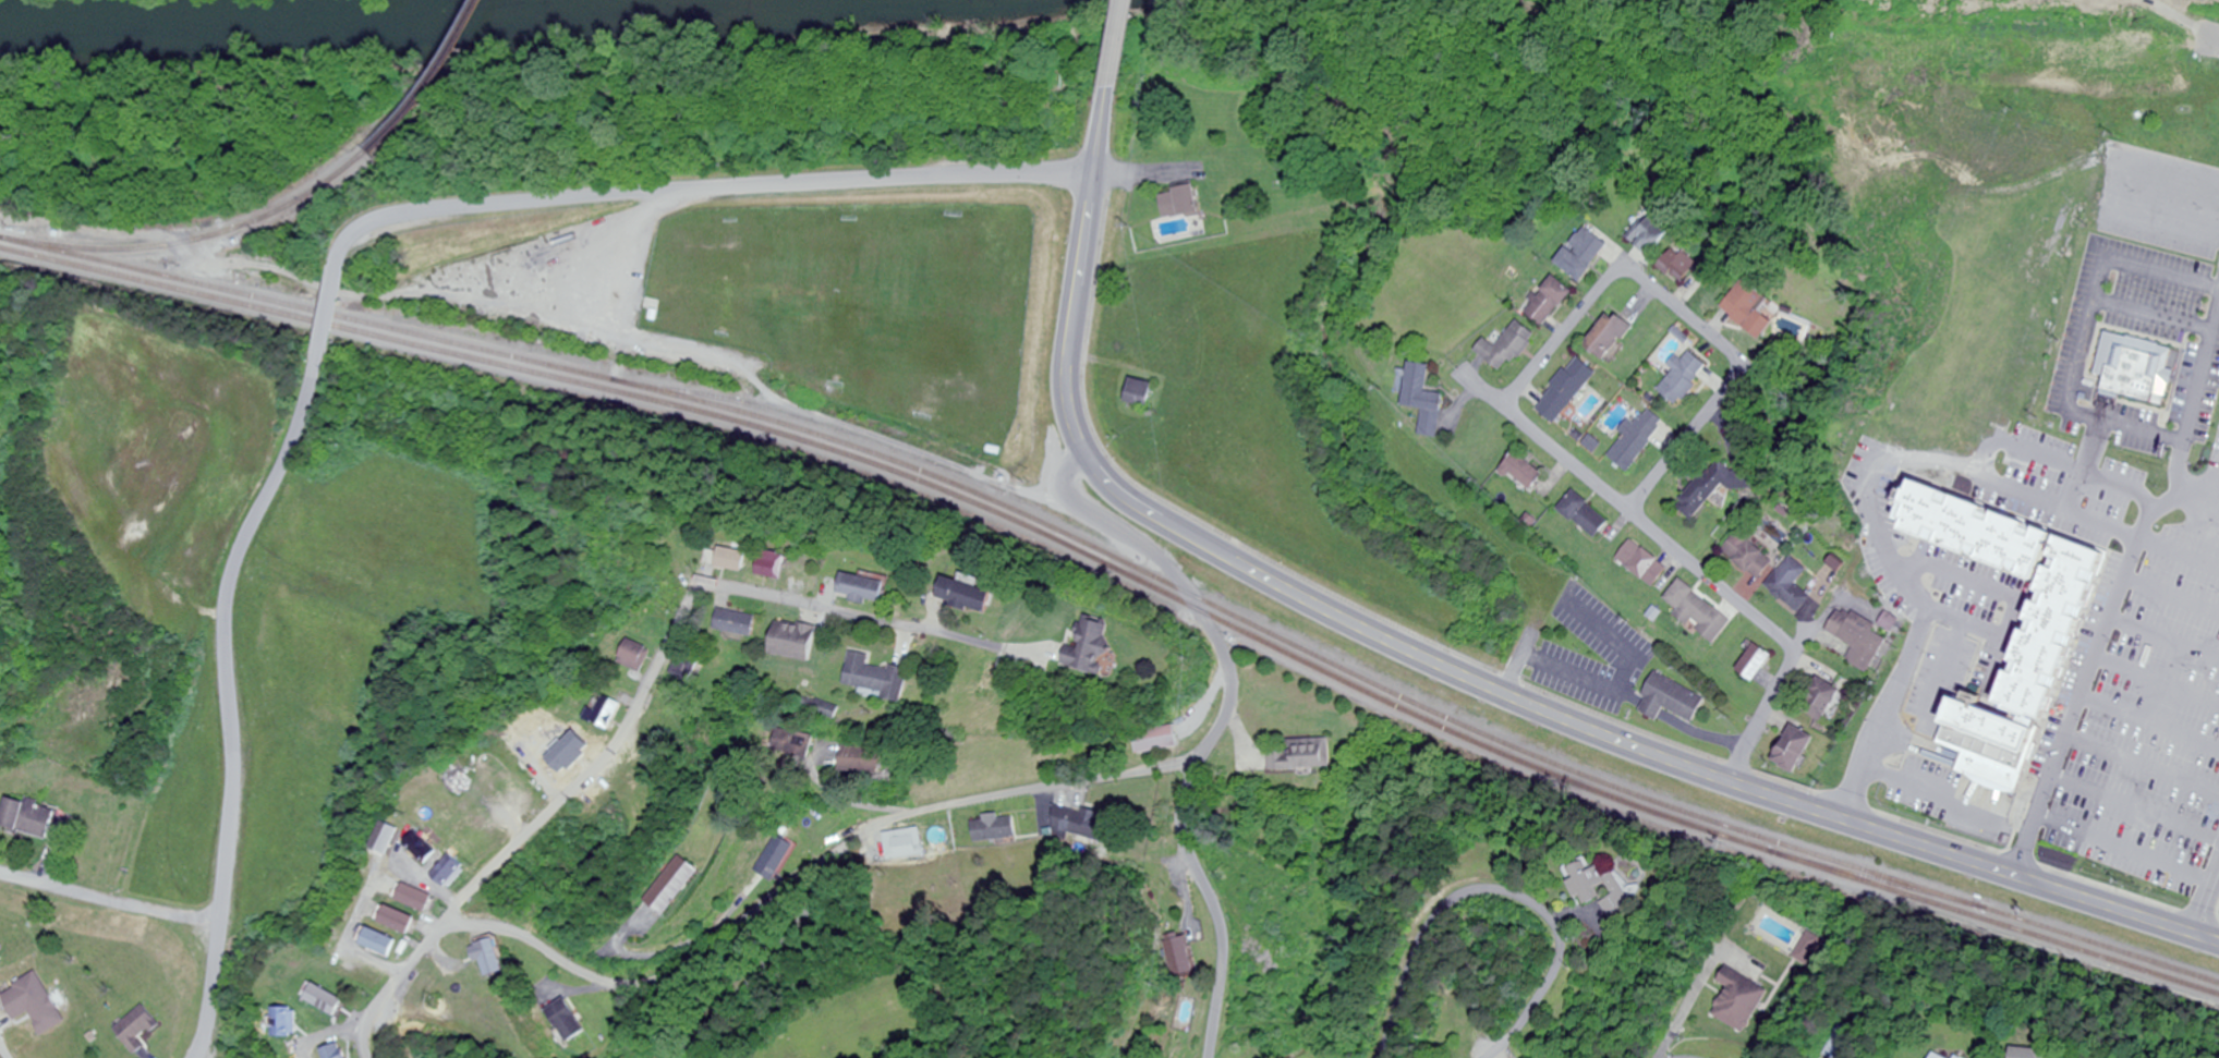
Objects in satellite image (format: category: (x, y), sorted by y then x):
road: (2179, 17)
river: (320, 26)
road: (1121, 45)
railway: (435, 81)
park: (2151, 123)
road: (707, 187)
building: (1187, 203)
building: (1656, 233)
railway: (211, 235)
railway: (15, 240)
building: (1586, 254)
building: (1684, 266)
park: (729, 278)
building: (1553, 301)
park: (845, 302)
building: (1754, 309)
road: (2154, 311)
road: (1687, 314)
road: (334, 315)
park: (967, 318)
road: (2084, 332)
building: (1613, 337)
building: (1511, 346)
building: (1686, 377)
building: (2142, 380)
building: (1569, 390)
building: (1141, 393)
road: (2195, 393)
building: (1427, 398)
building: (1638, 439)
road: (2053, 465)
building: (1526, 472)
building: (1715, 487)
road: (2202, 507)
road: (1874, 513)
building: (1586, 515)
road: (2181, 551)
building: (1749, 554)
building: (739, 560)
building: (1644, 563)
building: (779, 566)
railway: (1125, 566)
road: (1707, 571)
building: (1792, 585)
building: (869, 589)
road: (2015, 594)
building: (972, 596)
road: (2173, 596)
building: (1699, 612)
building: (743, 623)
building: (1860, 639)
road: (2166, 639)
road: (1612, 641)
road: (671, 642)
building: (800, 642)
building: (1100, 649)
building: (642, 656)
road: (2098, 657)
building: (1755, 664)
road: (1455, 677)
building: (880, 678)
building: (996, 679)
road: (2158, 681)
road: (1614, 688)
building: (1821, 700)
building: (1672, 701)
road: (233, 703)
building: (610, 714)
road: (1222, 723)
road: (2151, 723)
road: (820, 734)
building: (1160, 741)
building: (1794, 751)
building: (1303, 756)
building: (2212, 756)
building: (865, 761)
building: (1884, 762)
building: (574, 763)
road: (2144, 766)
road: (2136, 810)
building: (33, 818)
building: (1079, 824)
building: (993, 829)
building: (393, 839)
building: (904, 844)
building: (429, 848)
road: (2130, 848)
building: (777, 858)
building: (458, 872)
building: (678, 886)
road: (1507, 892)
building: (1611, 895)
road: (111, 898)
building: (423, 898)
road: (2207, 904)
road: (745, 920)
building: (404, 921)
power tower: (80, 937)
building: (386, 943)
building: (1179, 956)
building: (498, 959)
road: (760, 969)
building: (20, 970)
building: (329, 1000)
road: (1694, 1000)
building: (1741, 1000)
power tower: (446, 1002)
building: (570, 1021)
building: (288, 1023)
building: (140, 1029)
building: (1848, 1043)
building: (340, 1051)
building: (1942, 1057)

